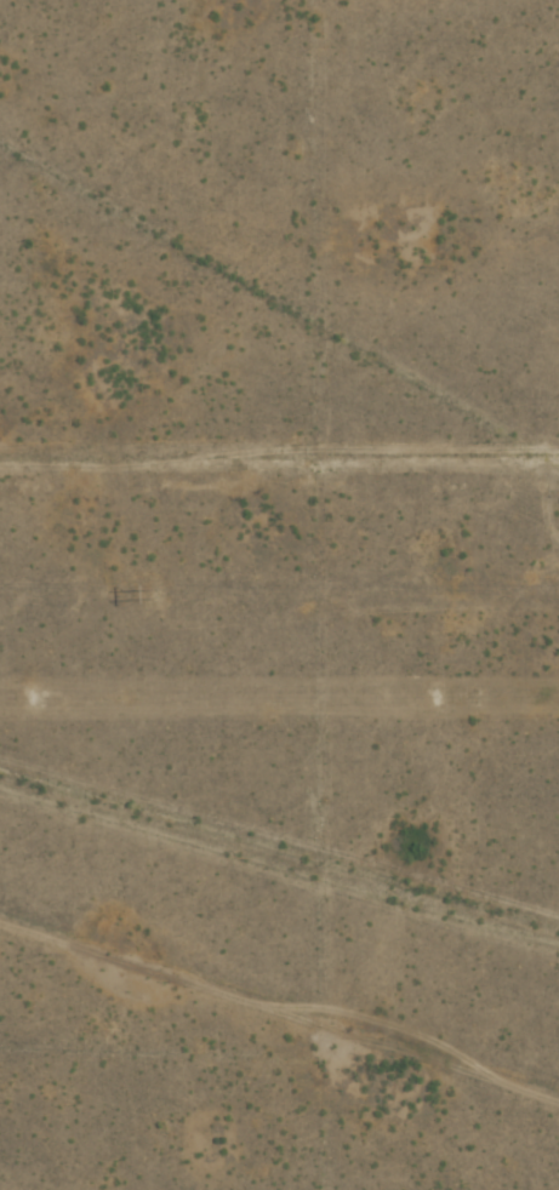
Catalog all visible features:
power tower: (156, 595)
power tower: (437, 698)
power tower: (34, 699)

